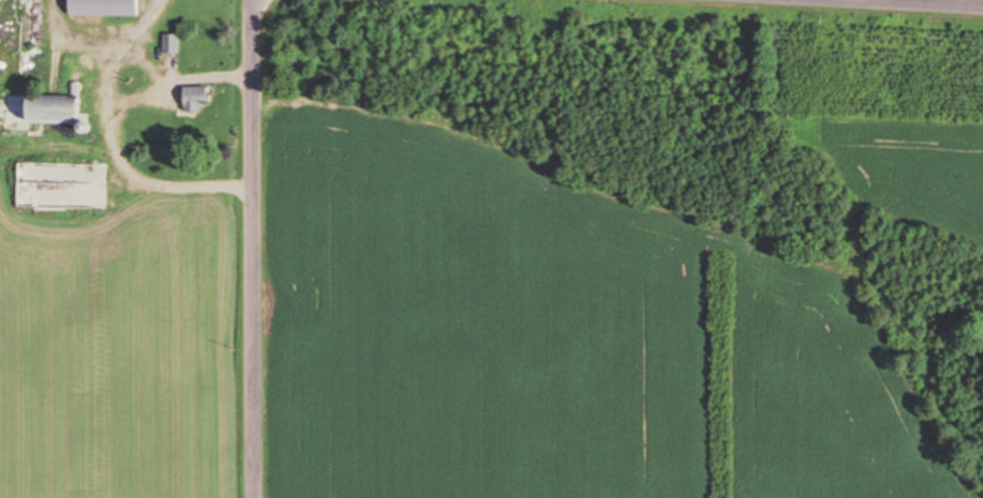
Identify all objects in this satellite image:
road: (901, 4)
building: (100, 7)
building: (170, 43)
building: (193, 98)
building: (42, 111)
road: (254, 248)

